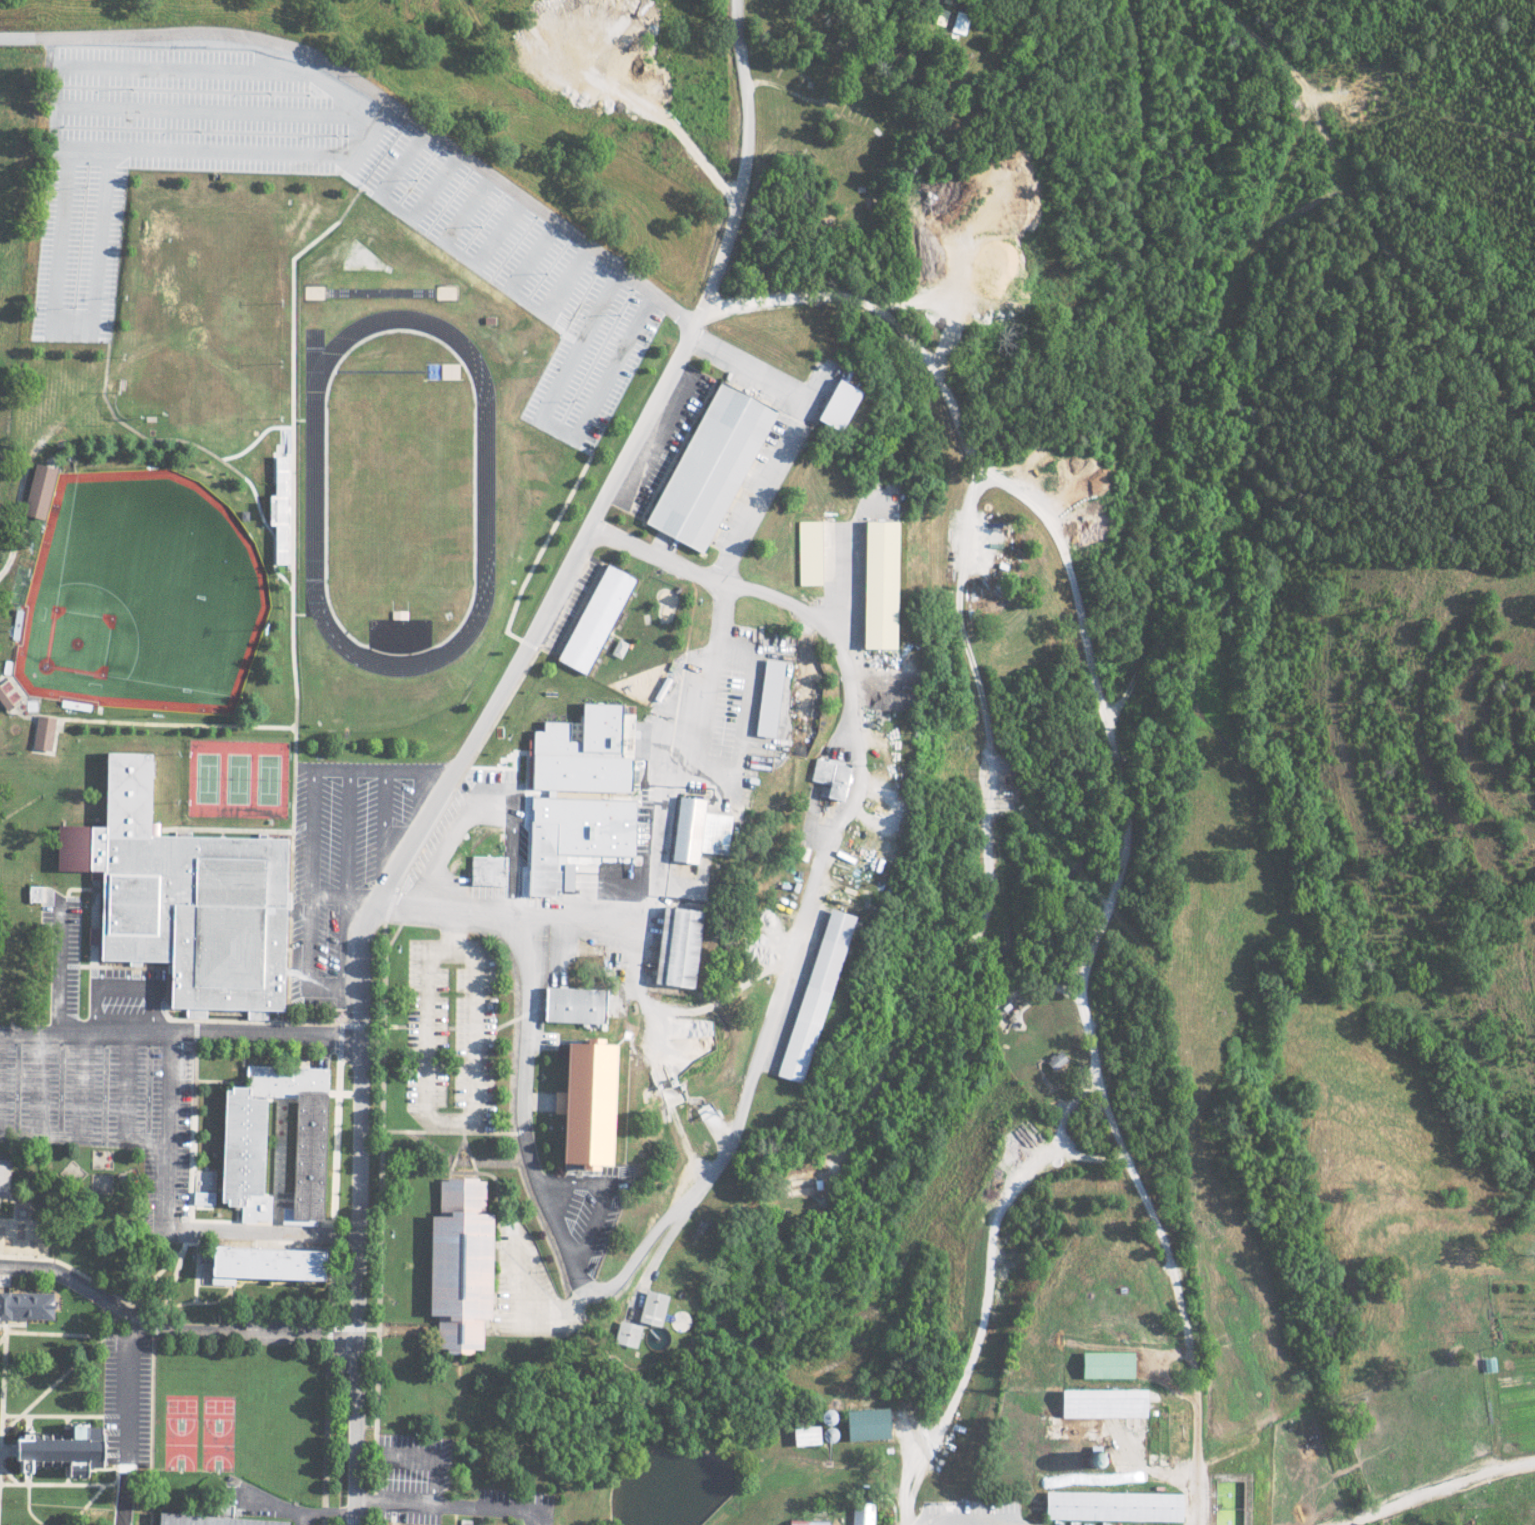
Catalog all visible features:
building: (958, 22)
road: (21, 36)
road: (54, 36)
road: (406, 113)
road: (746, 168)
parking lot: (481, 217)
road: (52, 306)
building: (433, 372)
building: (833, 405)
road: (555, 424)
road: (793, 436)
building: (707, 467)
park: (399, 478)
track: (315, 484)
track: (400, 484)
building: (36, 491)
building: (278, 510)
building: (808, 553)
building: (876, 585)
park: (142, 593)
building: (593, 619)
building: (767, 698)
building: (41, 733)
building: (581, 751)
road: (423, 763)
building: (830, 777)
park: (208, 778)
park: (239, 778)
park: (269, 779)
road: (312, 786)
road: (386, 792)
road: (666, 803)
parking lot: (346, 849)
building: (544, 859)
building: (483, 871)
road: (367, 889)
road: (384, 889)
building: (190, 893)
building: (31, 894)
road: (452, 926)
building: (672, 947)
road: (386, 950)
road: (122, 989)
building: (811, 996)
building: (569, 1006)
parking lot: (452, 1028)
road: (179, 1033)
building: (1054, 1061)
parking lot: (106, 1099)
building: (595, 1099)
road: (738, 1108)
road: (449, 1111)
road: (443, 1124)
road: (510, 1126)
road: (520, 1127)
road: (460, 1138)
building: (246, 1141)
road: (464, 1144)
road: (452, 1154)
road: (469, 1155)
road: (460, 1169)
building: (3, 1178)
road: (496, 1180)
road: (606, 1189)
parking lot: (585, 1210)
road: (379, 1242)
building: (282, 1262)
building: (457, 1265)
road: (514, 1276)
parking lot: (521, 1278)
road: (77, 1279)
building: (21, 1307)
road: (117, 1308)
building: (650, 1309)
parking lot: (283, 1315)
road: (404, 1322)
road: (116, 1329)
building: (624, 1334)
road: (251, 1335)
building: (1103, 1365)
road: (129, 1376)
road: (603, 1400)
building: (1100, 1402)
building: (864, 1423)
park: (180, 1425)
park: (219, 1426)
building: (803, 1434)
road: (676, 1442)
dam: (675, 1444)
building: (55, 1450)
road: (432, 1460)
road: (742, 1475)
road: (367, 1499)
building: (1109, 1505)
building: (860, 1513)
building: (206, 1520)
building: (805, 1522)

